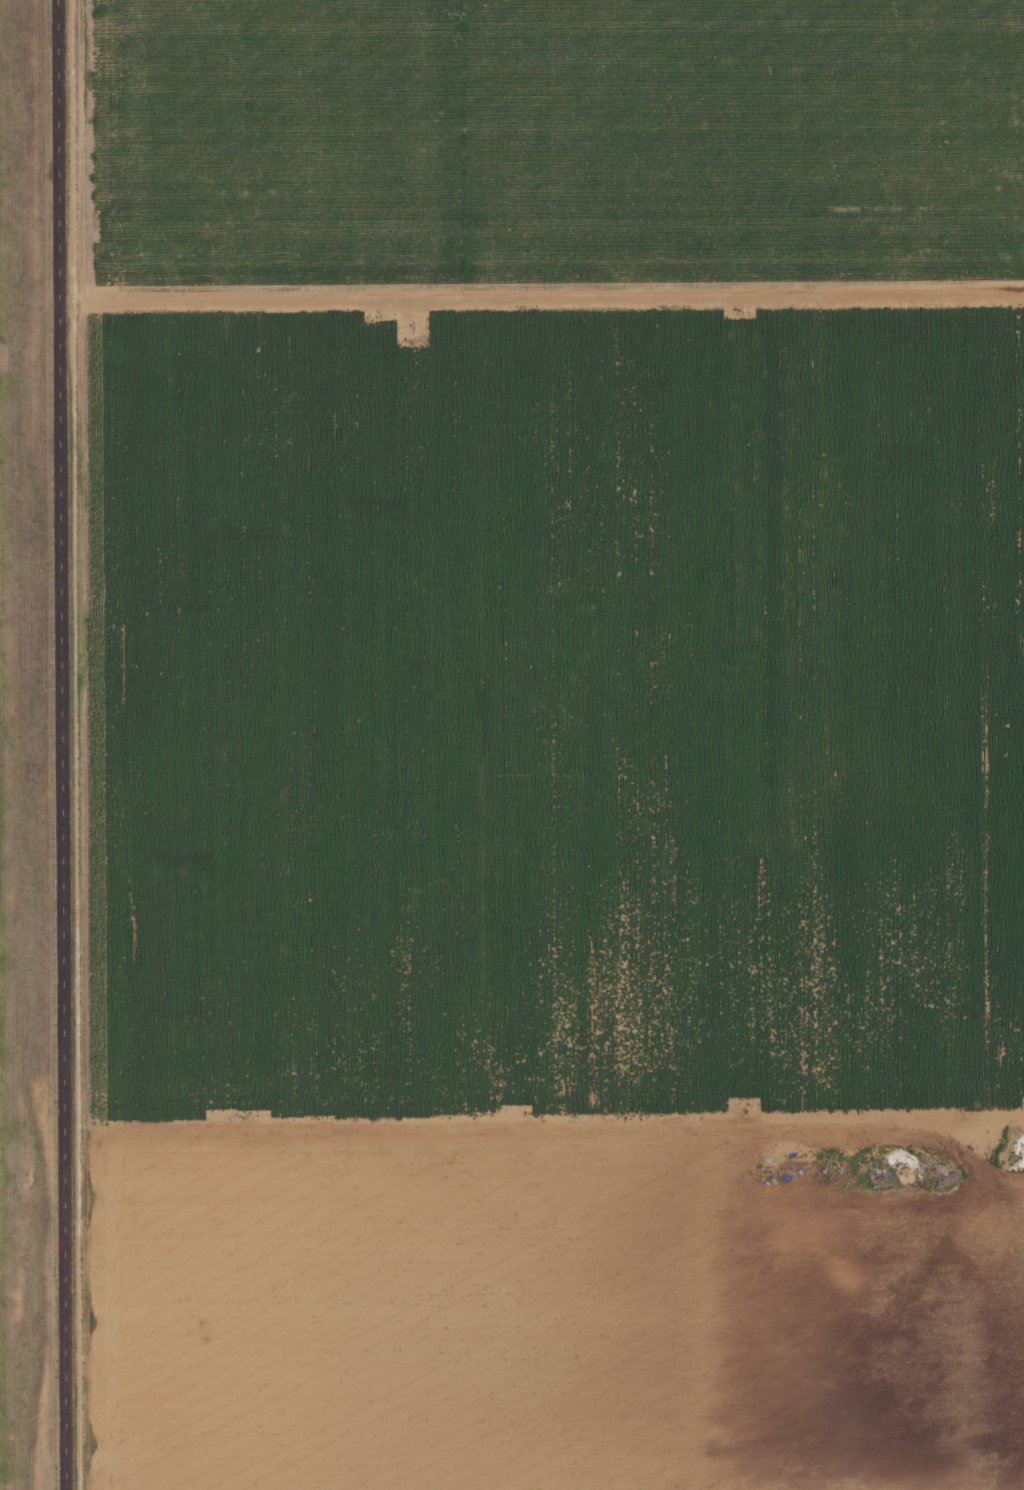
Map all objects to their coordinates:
road: (551, 297)
road: (61, 745)
airport: (35, 758)
road: (555, 1126)

